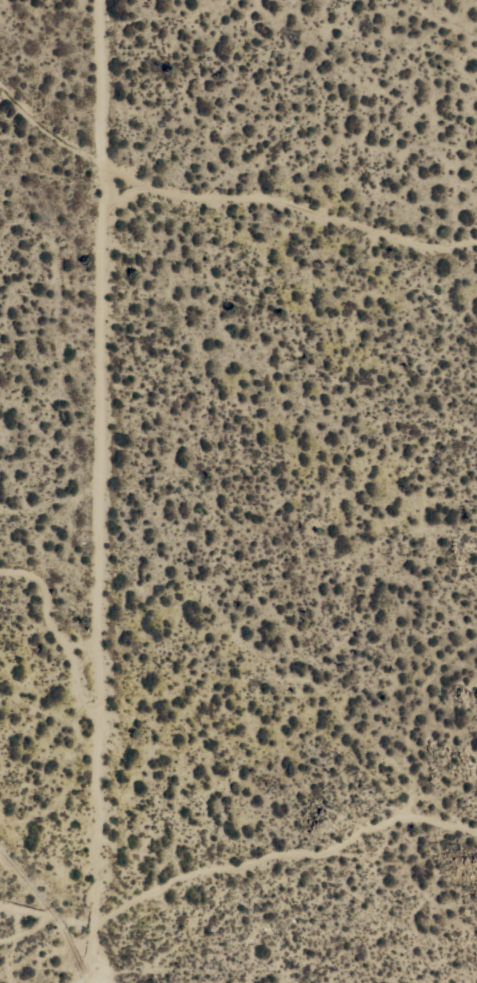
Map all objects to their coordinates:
road: (104, 85)
road: (54, 125)
road: (106, 386)
road: (60, 628)
road: (287, 857)
road: (49, 918)

